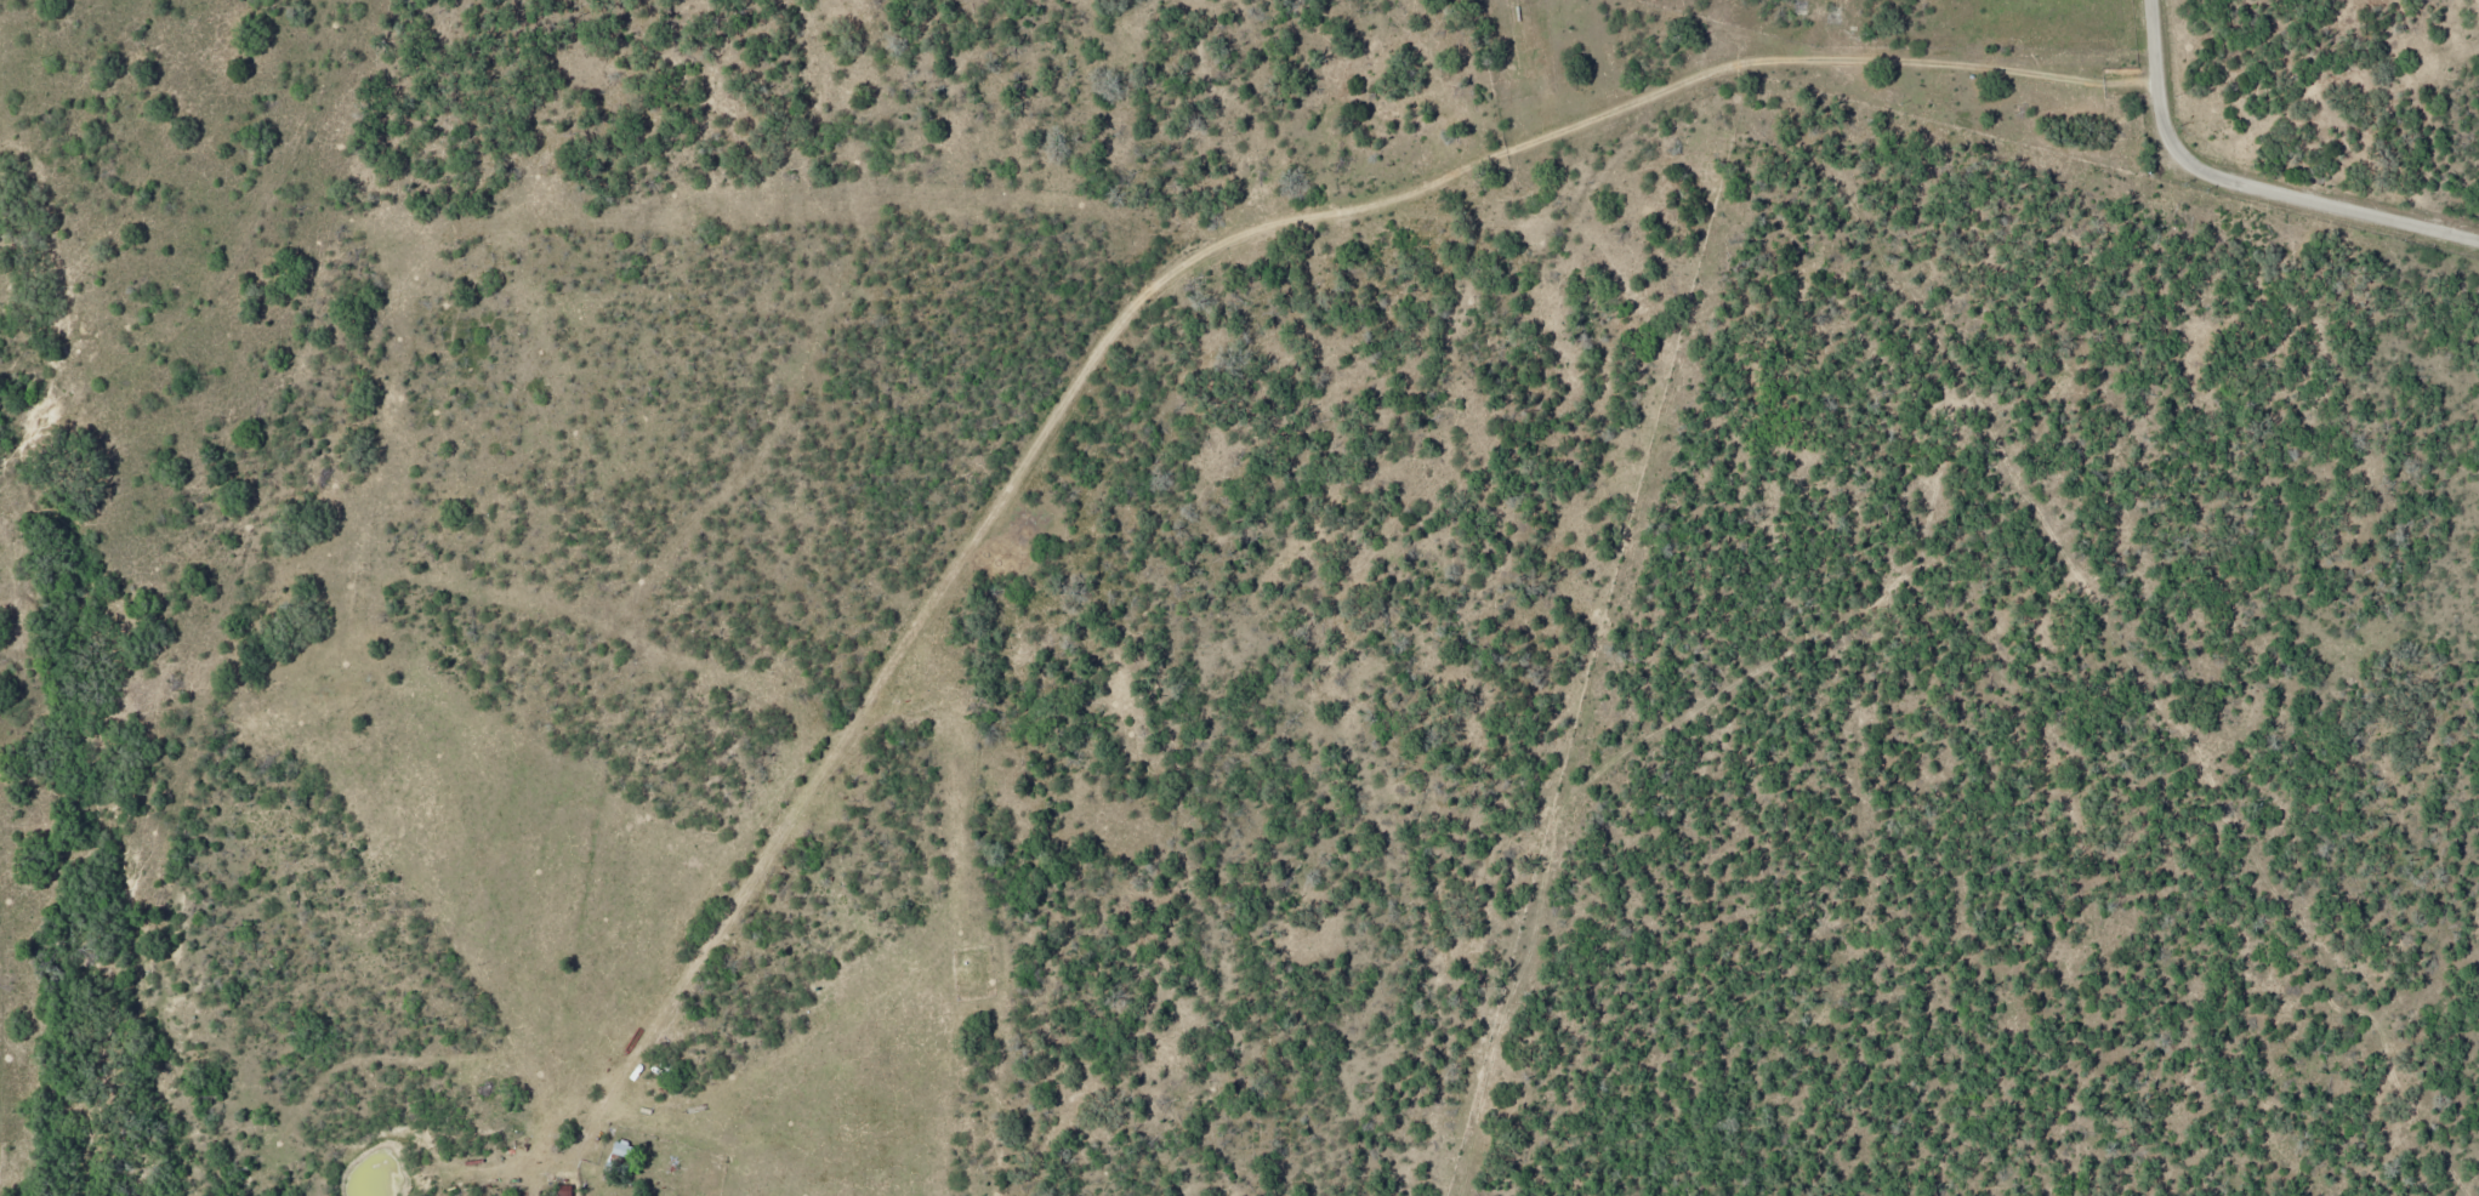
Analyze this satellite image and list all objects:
road: (2248, 187)
building: (622, 1156)

